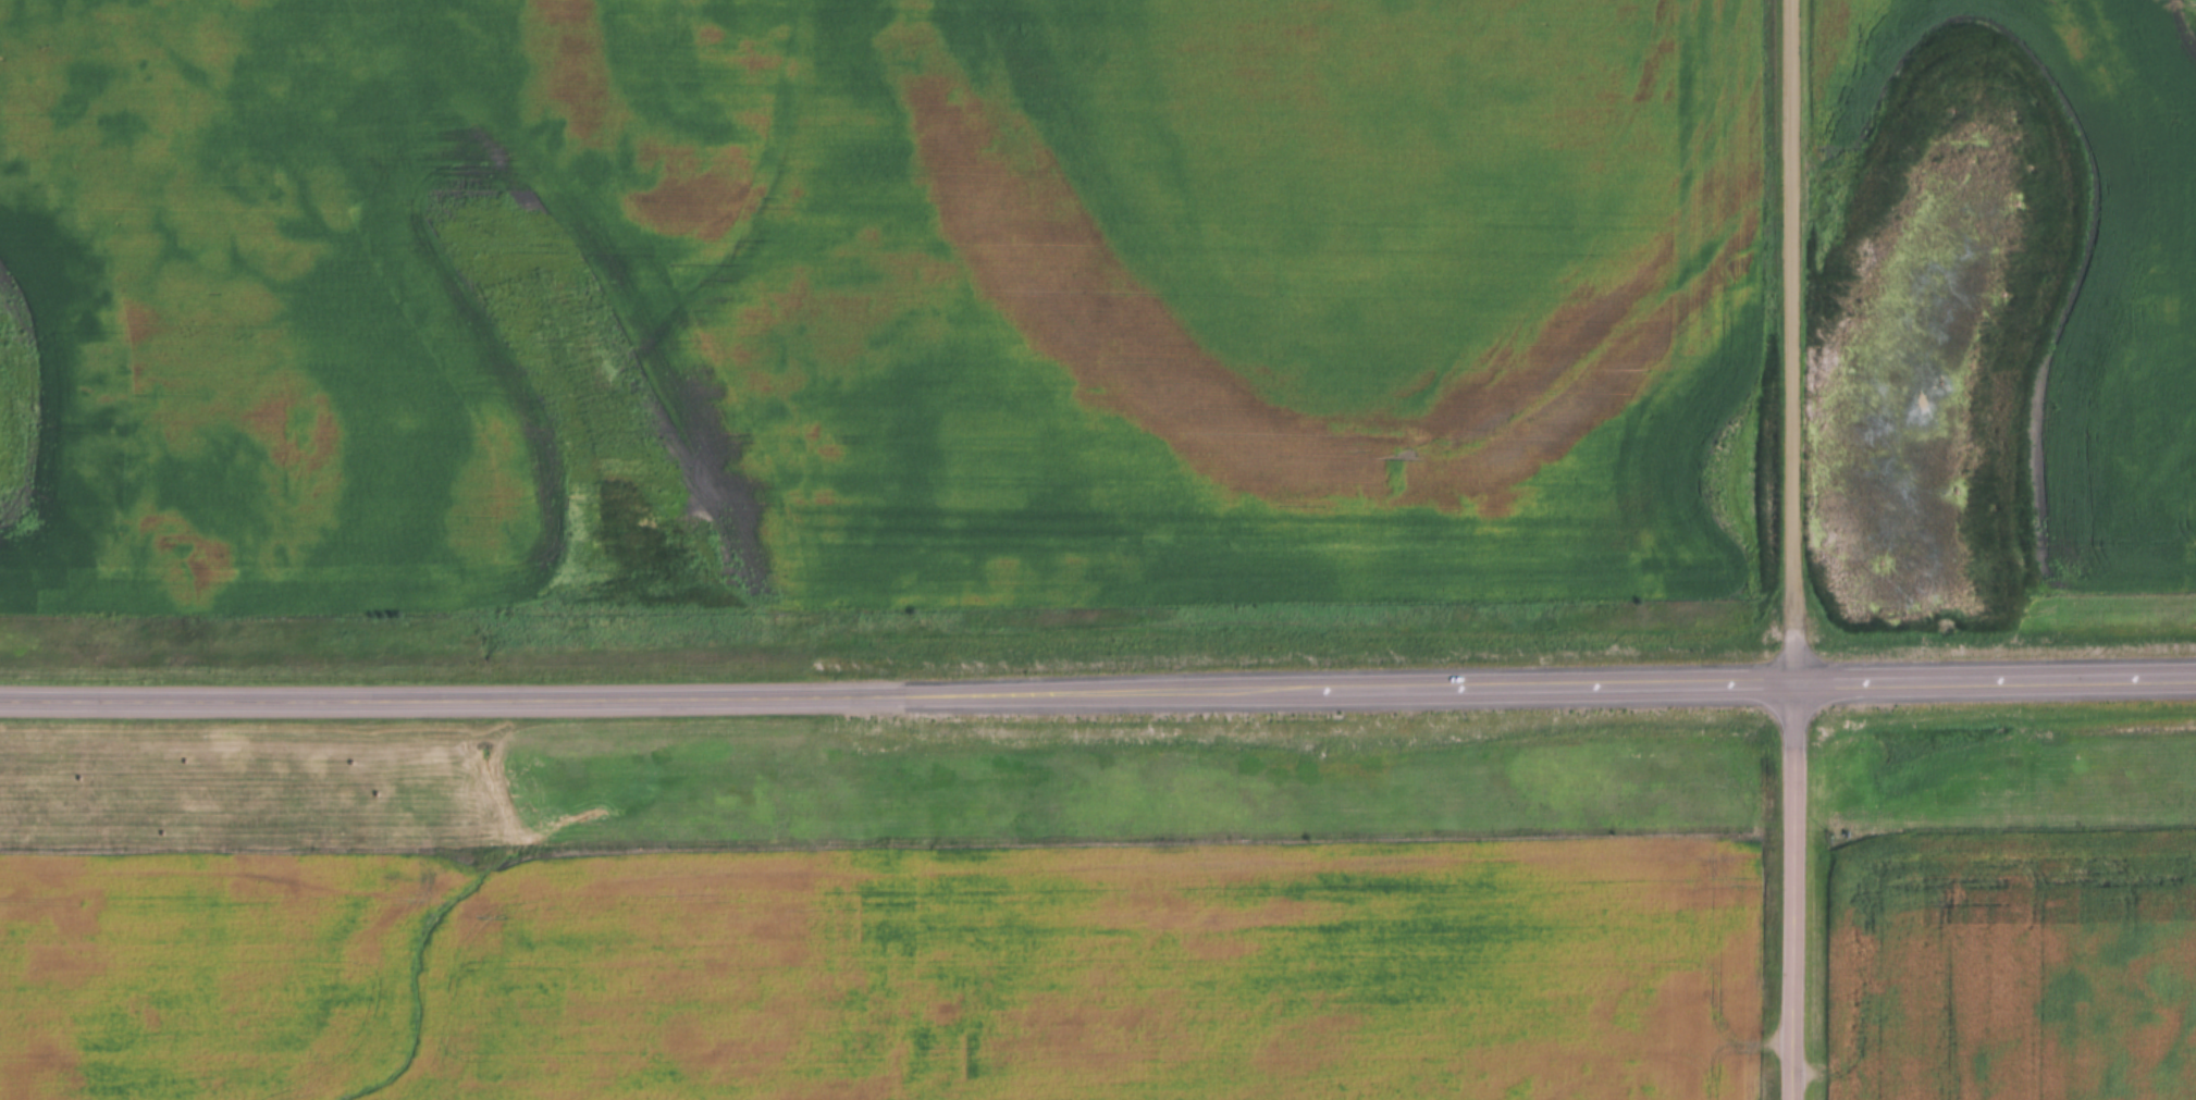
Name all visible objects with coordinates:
crop: (2059, 250)
crop: (874, 297)
road: (1790, 339)
road: (1098, 690)
road: (1792, 890)

